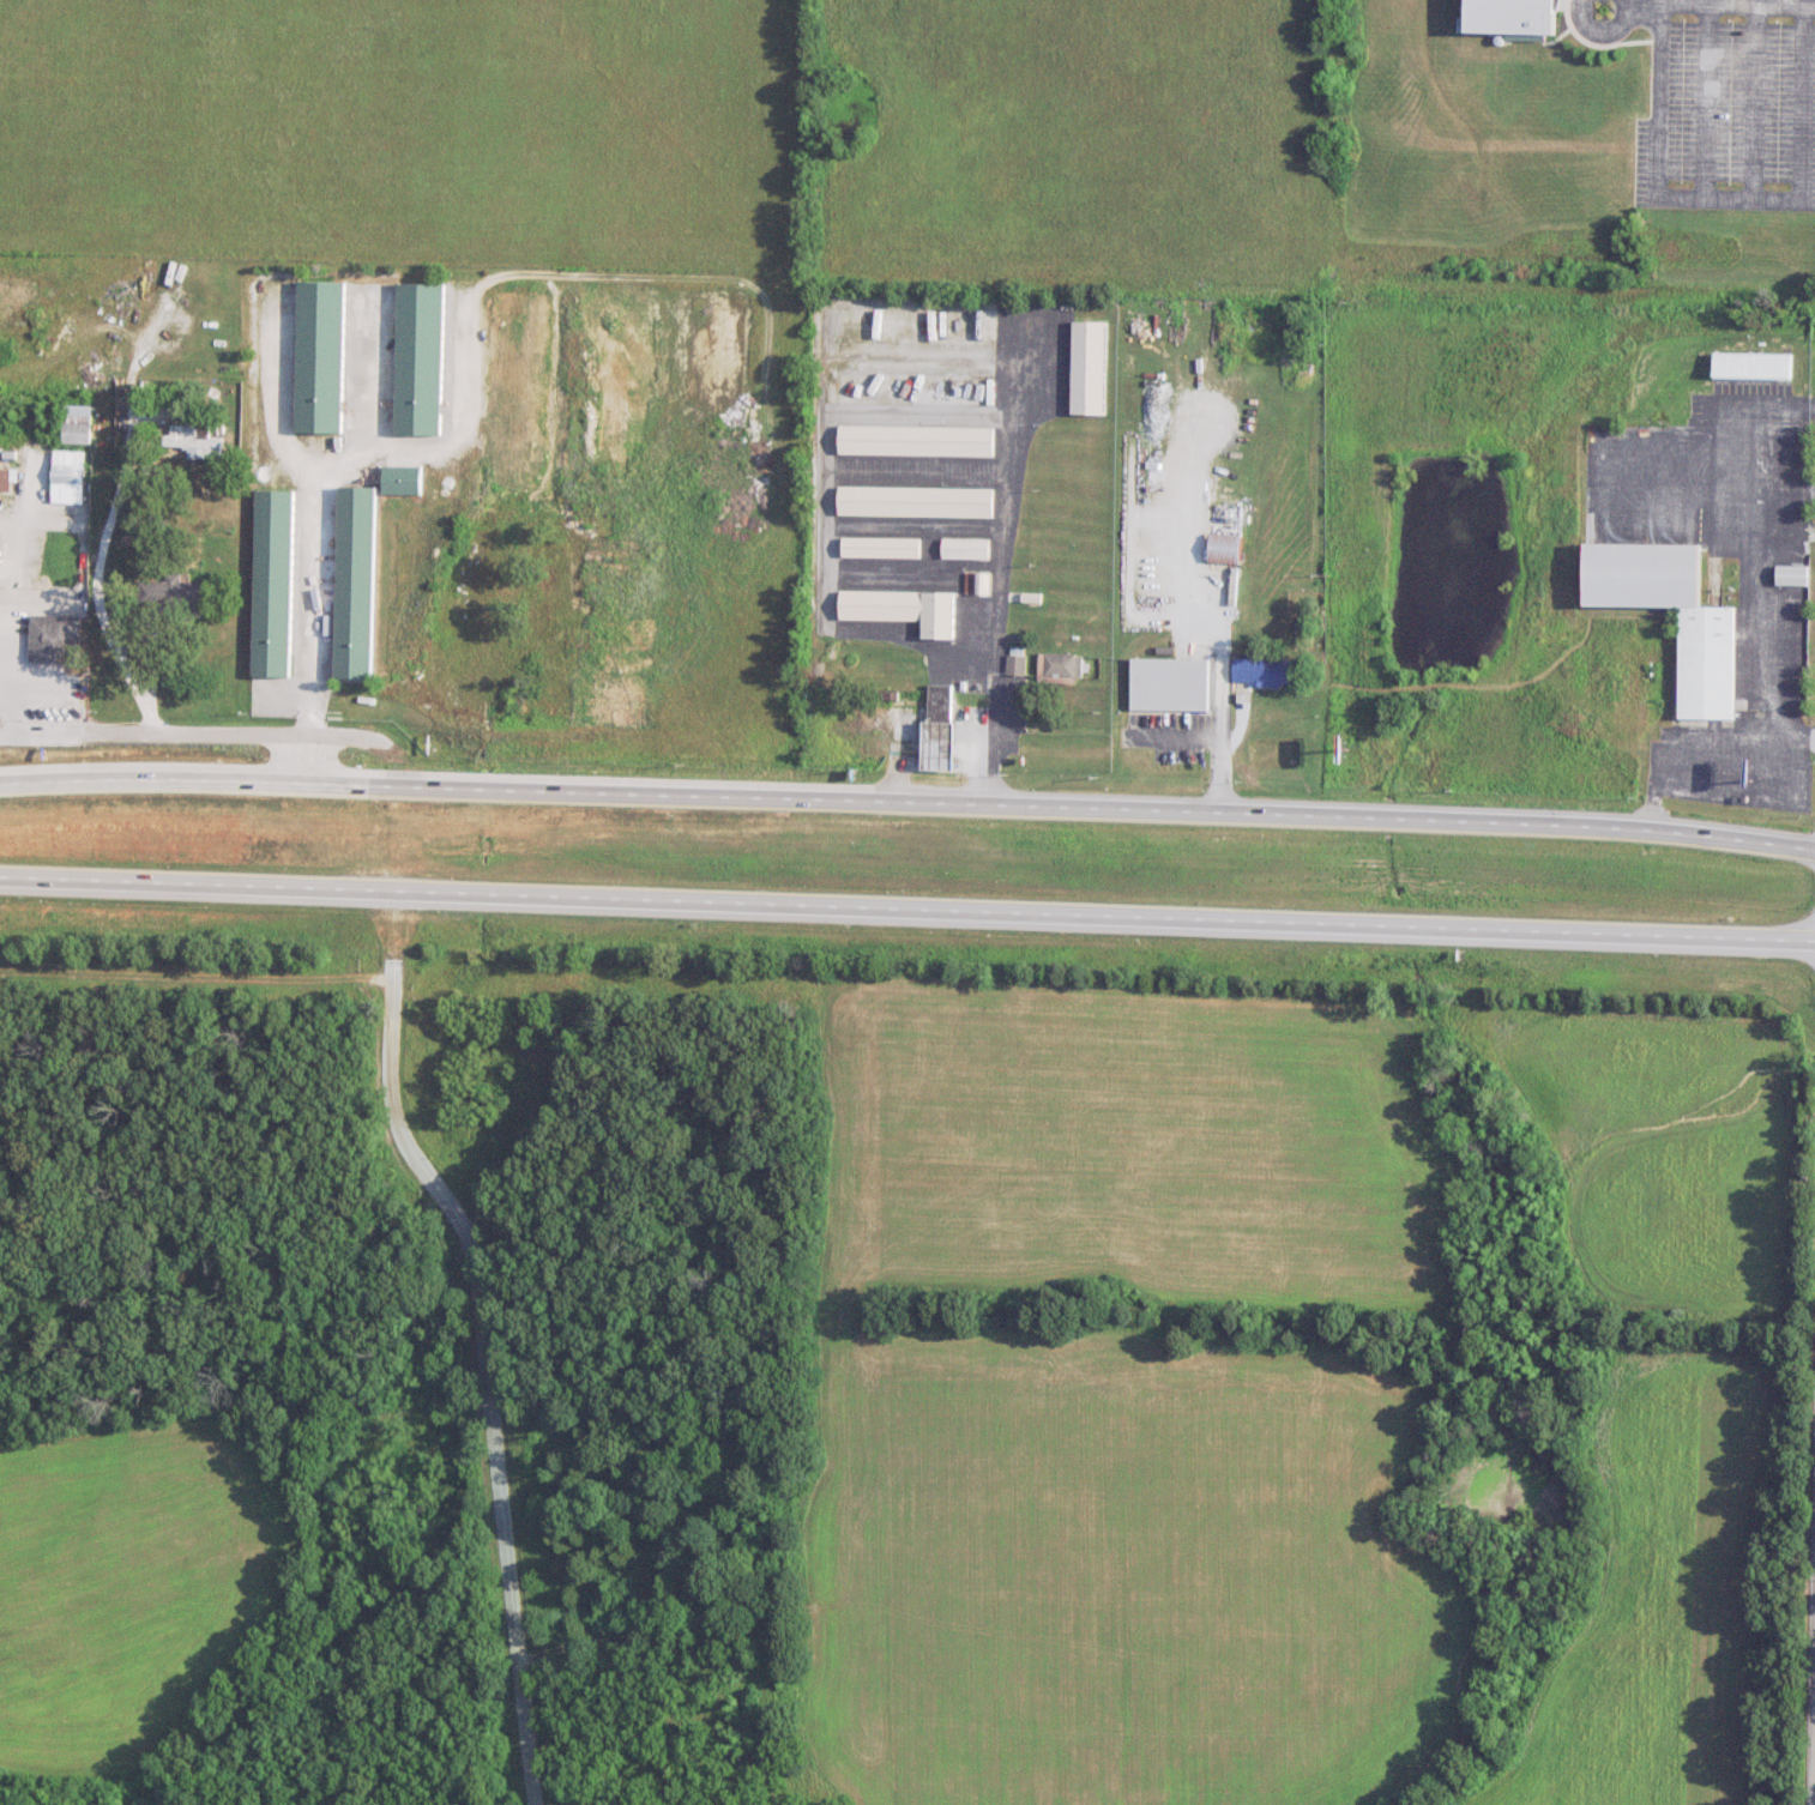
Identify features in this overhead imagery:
road: (1742, 2)
road: (1777, 2)
road: (1809, 6)
building: (1516, 16)
road: (1726, 195)
building: (320, 357)
building: (421, 360)
building: (1754, 366)
building: (1090, 368)
building: (79, 424)
building: (195, 440)
building: (917, 440)
building: (71, 472)
building: (6, 479)
building: (405, 479)
building: (916, 502)
road: (310, 539)
building: (881, 548)
building: (966, 549)
building: (1226, 549)
building: (357, 582)
building: (275, 584)
building: (977, 584)
building: (175, 597)
building: (904, 610)
building: (59, 639)
road: (1219, 656)
building: (1708, 663)
building: (1017, 665)
building: (1061, 666)
building: (1267, 671)
building: (1170, 686)
building: (941, 728)
road: (149, 731)
road: (907, 803)
road: (907, 907)
road: (487, 1371)
road: (1814, 1787)

